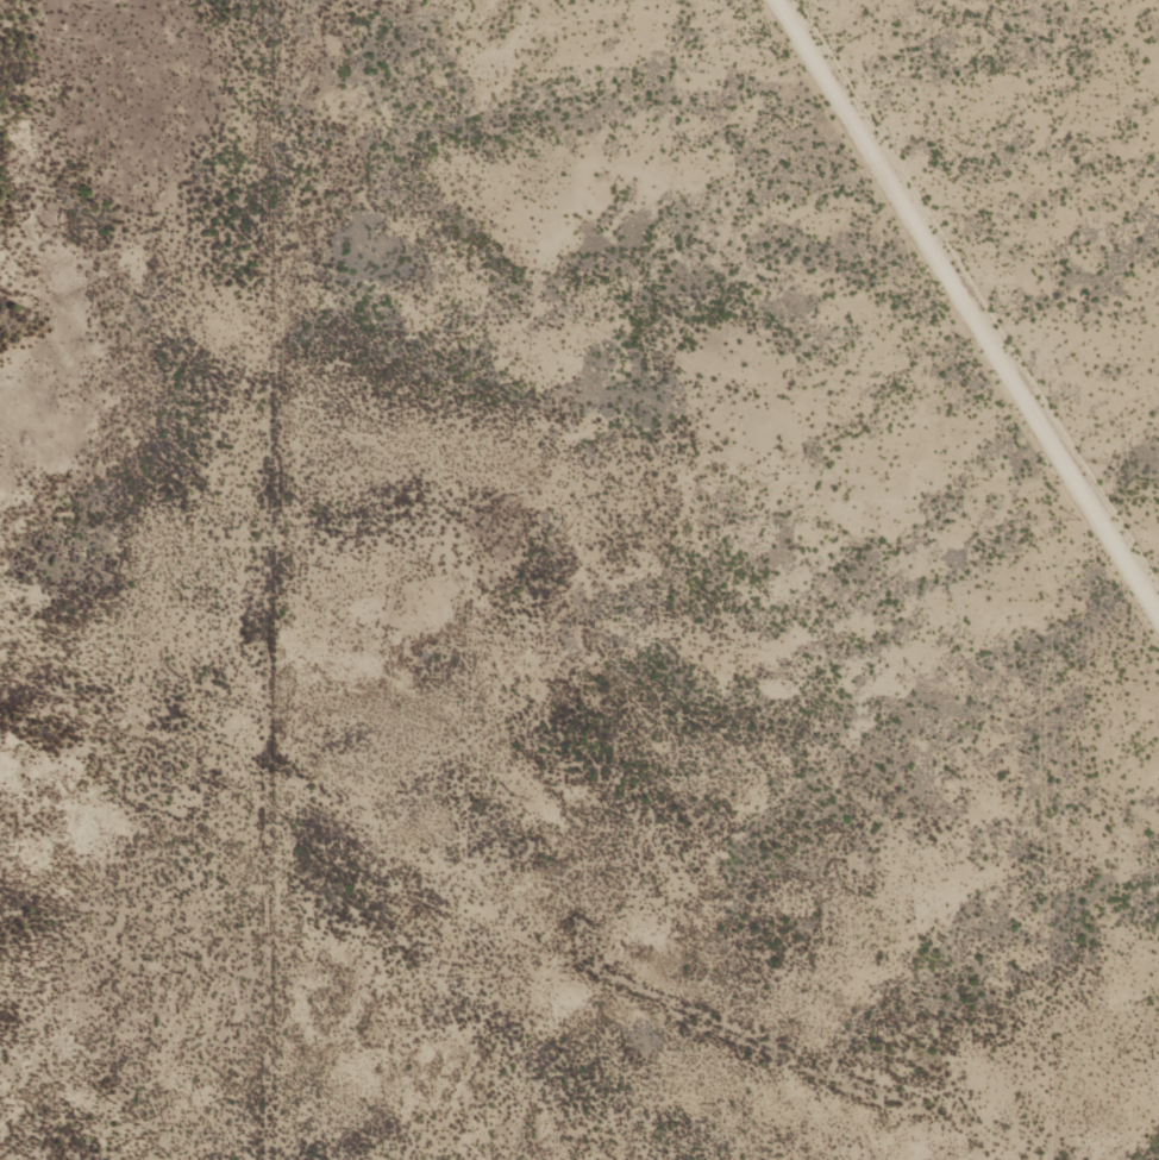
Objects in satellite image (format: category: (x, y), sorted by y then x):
road: (19, 106)

